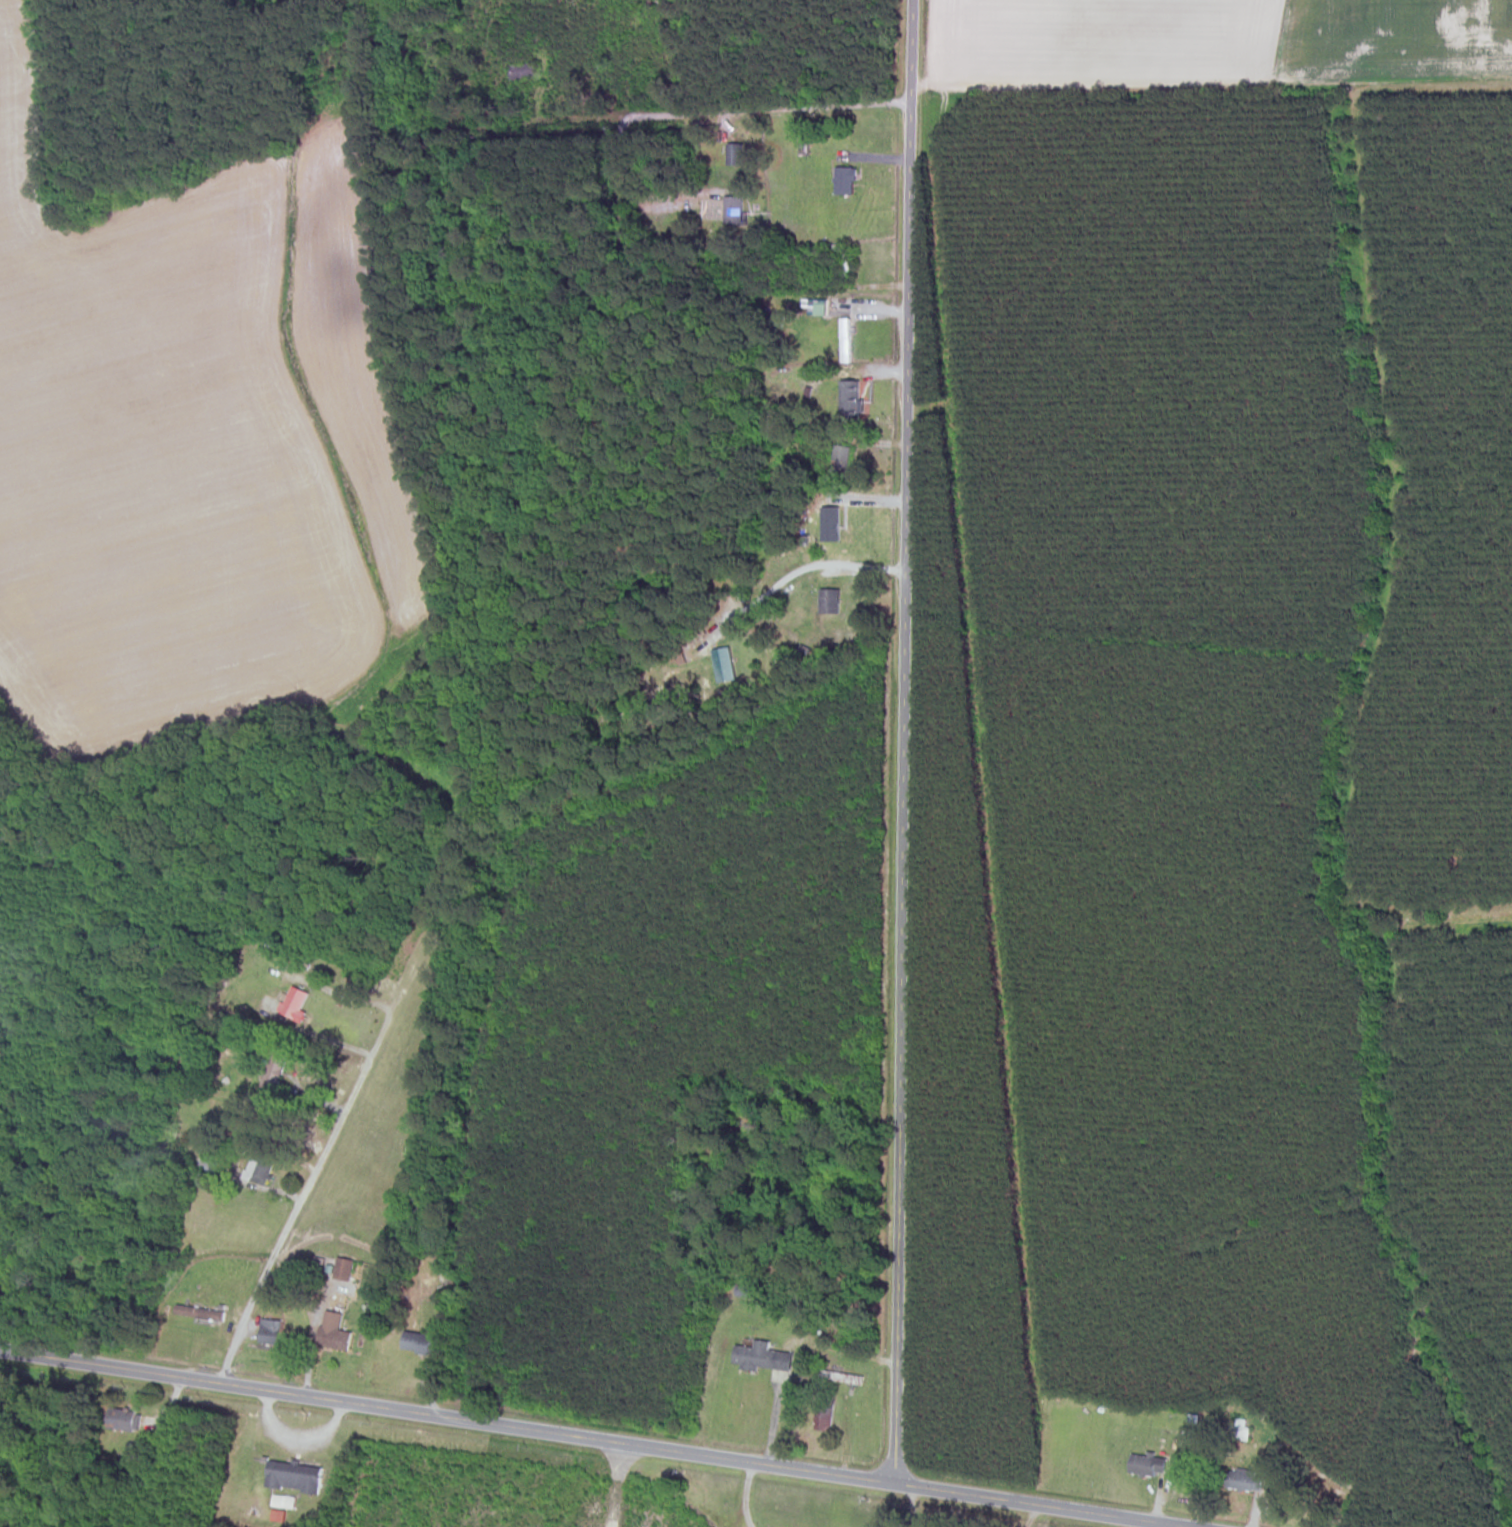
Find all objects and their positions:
building: (521, 72)
road: (704, 115)
building: (734, 155)
building: (843, 182)
building: (732, 212)
building: (845, 266)
building: (844, 340)
building: (850, 401)
building: (839, 465)
road: (801, 570)
building: (829, 603)
building: (682, 656)
building: (723, 666)
road: (904, 741)
building: (293, 1005)
building: (272, 1071)
building: (258, 1167)
road: (299, 1204)
building: (201, 1314)
building: (268, 1332)
building: (333, 1334)
road: (312, 1339)
building: (418, 1344)
building: (760, 1358)
building: (840, 1378)
building: (822, 1415)
building: (122, 1421)
building: (1239, 1434)
road: (597, 1439)
building: (1146, 1466)
building: (128, 1469)
building: (292, 1478)
building: (1242, 1482)
road: (745, 1494)

